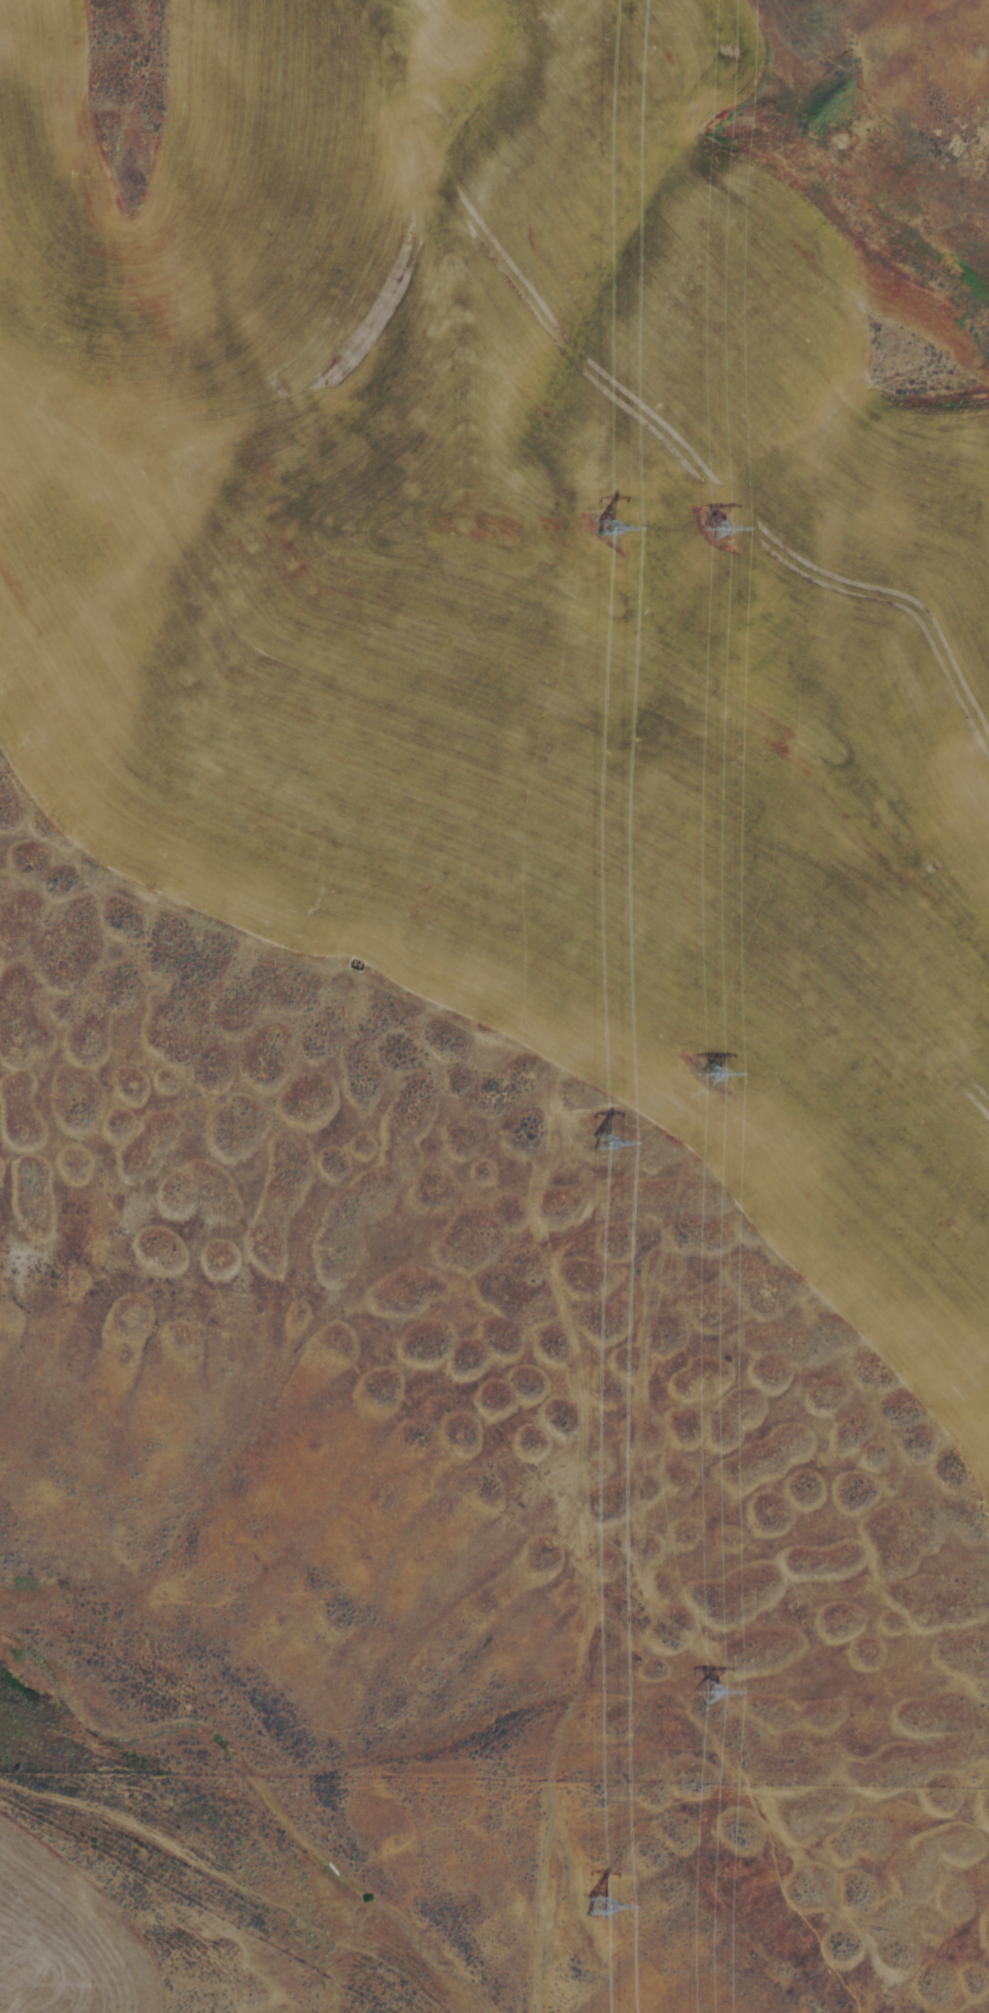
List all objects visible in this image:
power tower: (730, 524)
power tower: (617, 525)
power tower: (726, 1071)
power tower: (608, 1143)
power tower: (721, 1709)
power tower: (607, 1905)

